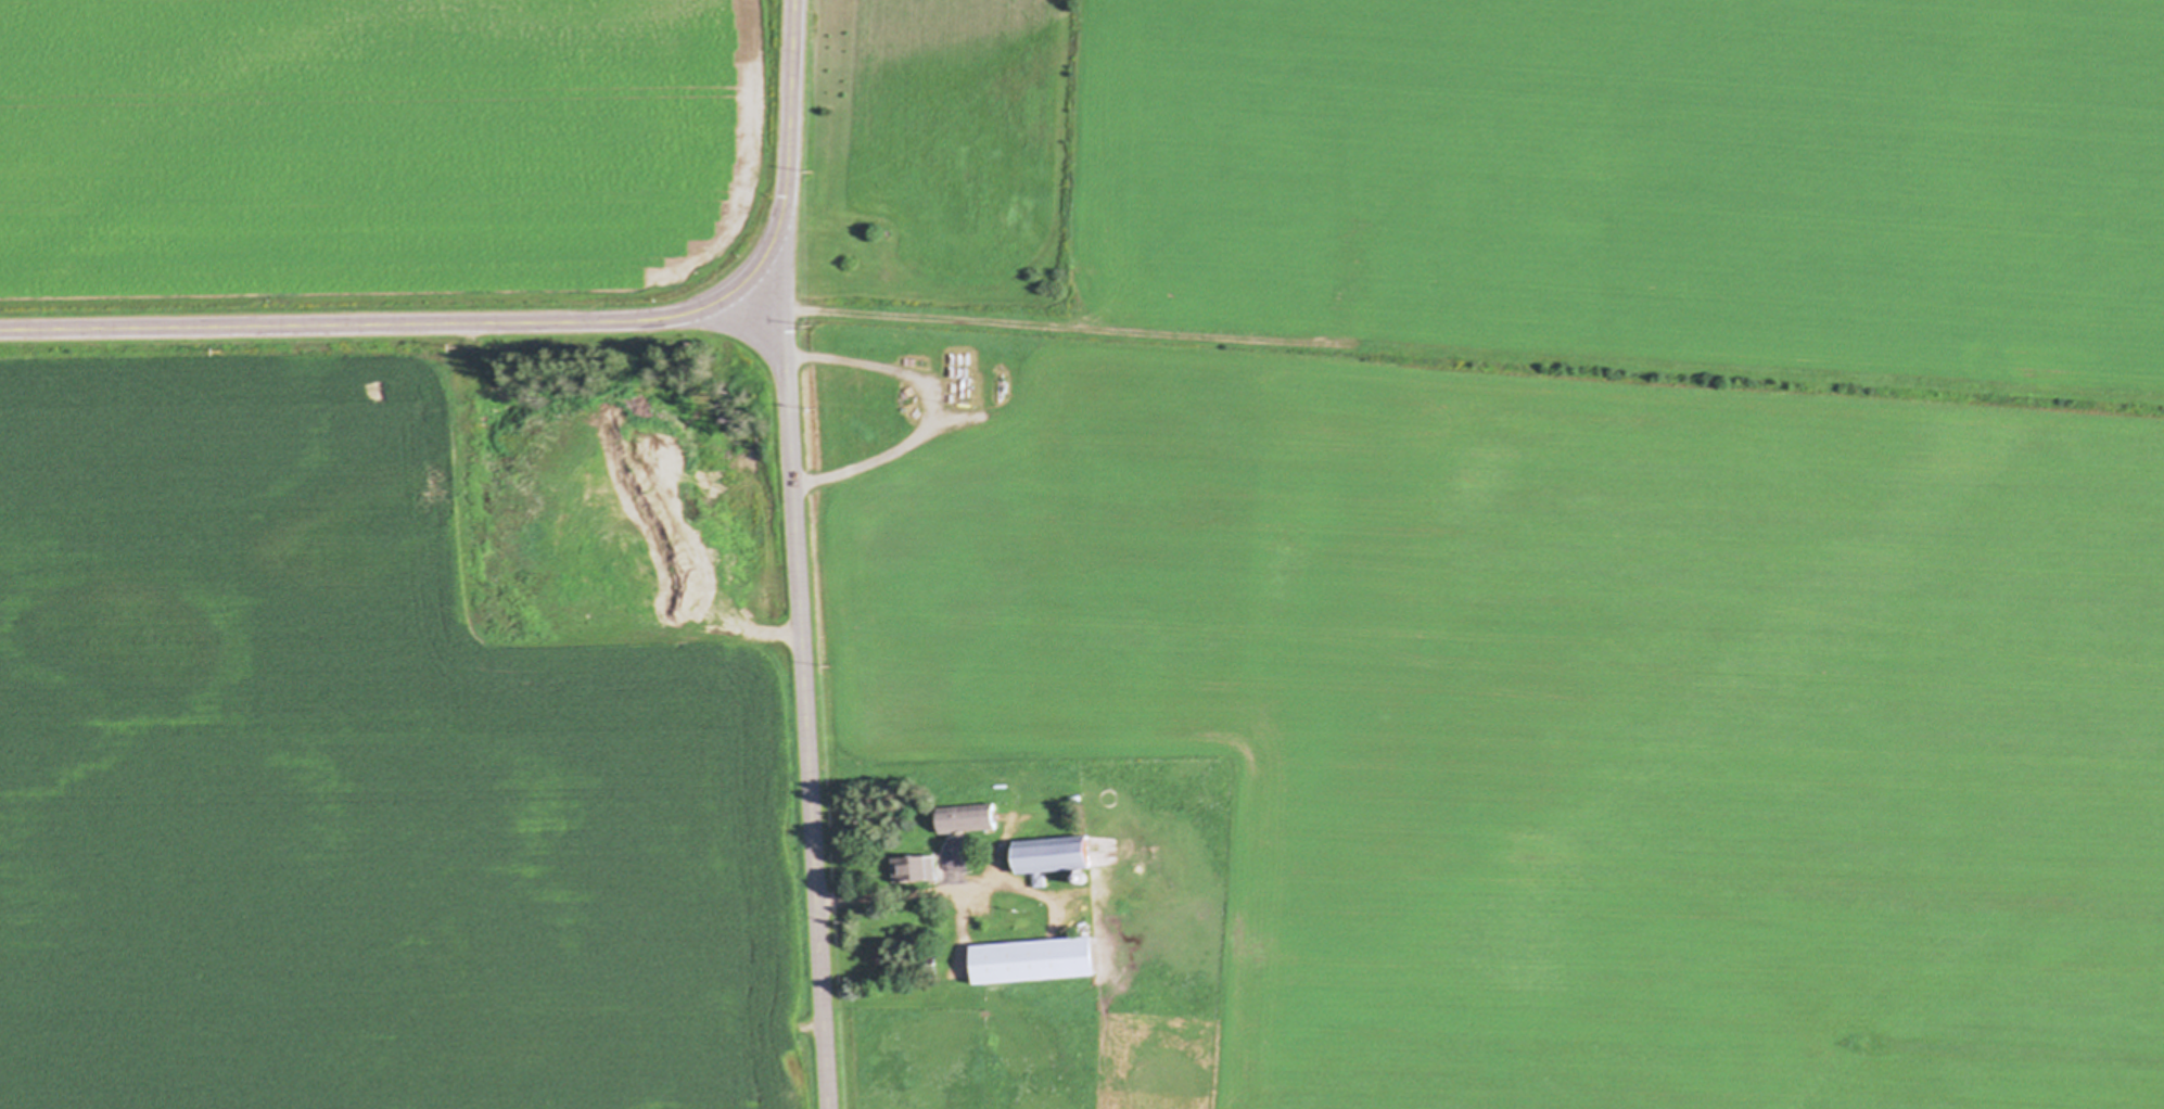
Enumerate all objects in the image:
road: (790, 151)
road: (372, 323)
road: (926, 409)
road: (802, 691)
building: (968, 818)
building: (1054, 856)
building: (915, 869)
road: (906, 894)
building: (1034, 960)

